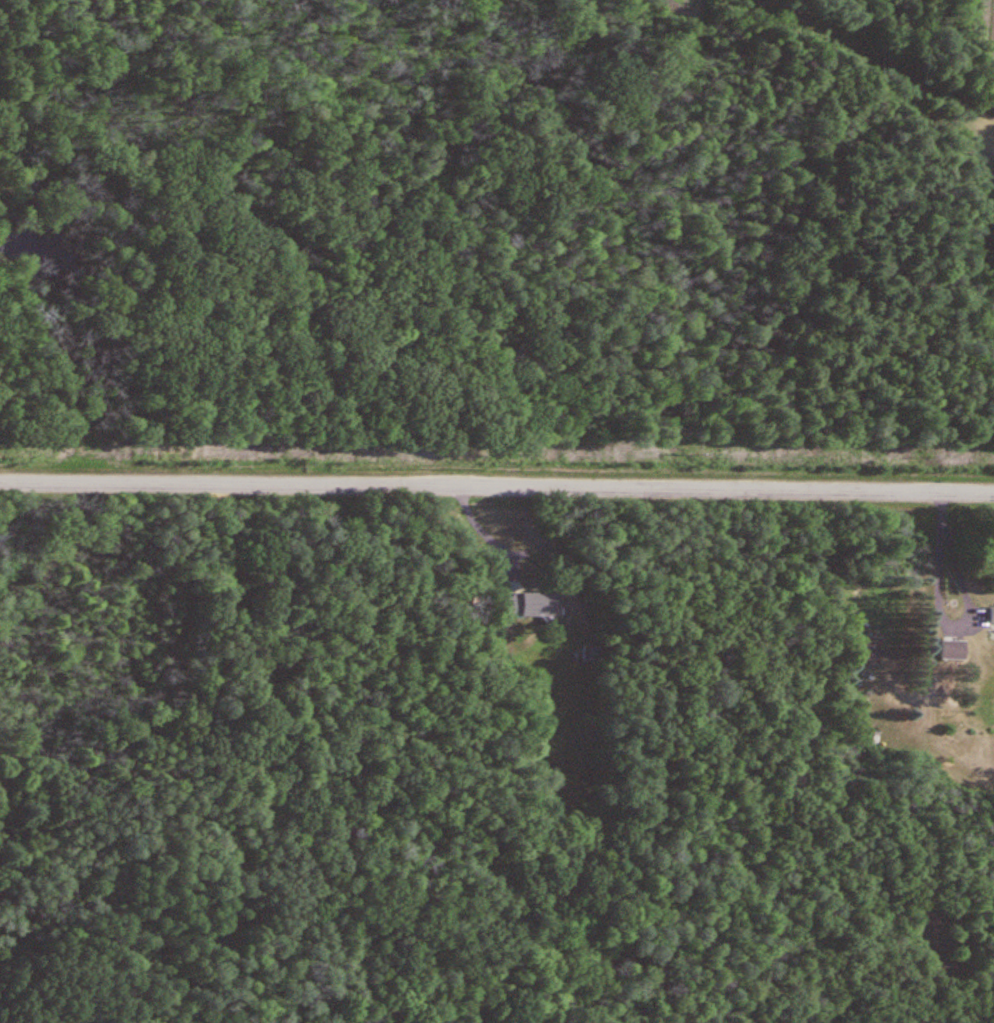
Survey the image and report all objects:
road: (496, 492)
building: (524, 605)
building: (990, 616)
road: (947, 626)
building: (950, 651)
building: (868, 653)

